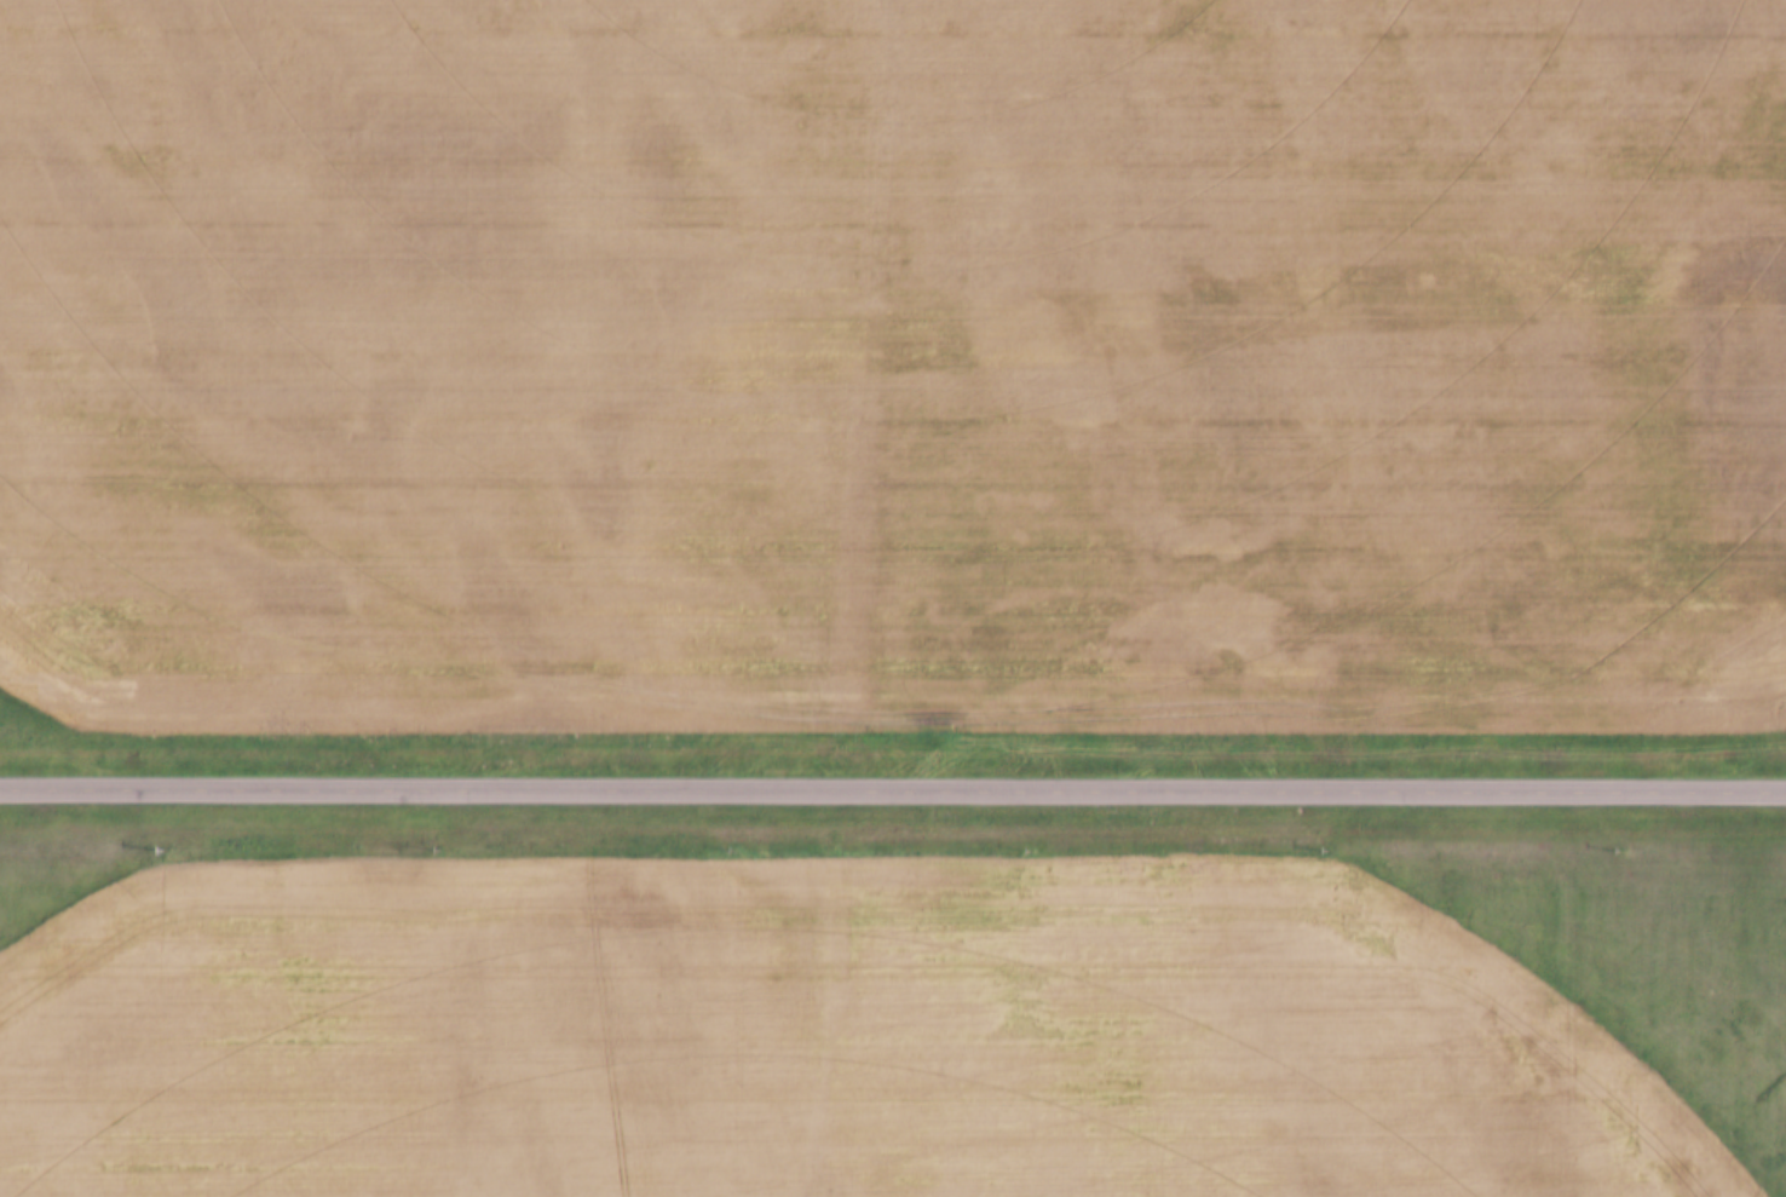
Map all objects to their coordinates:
road: (893, 788)

